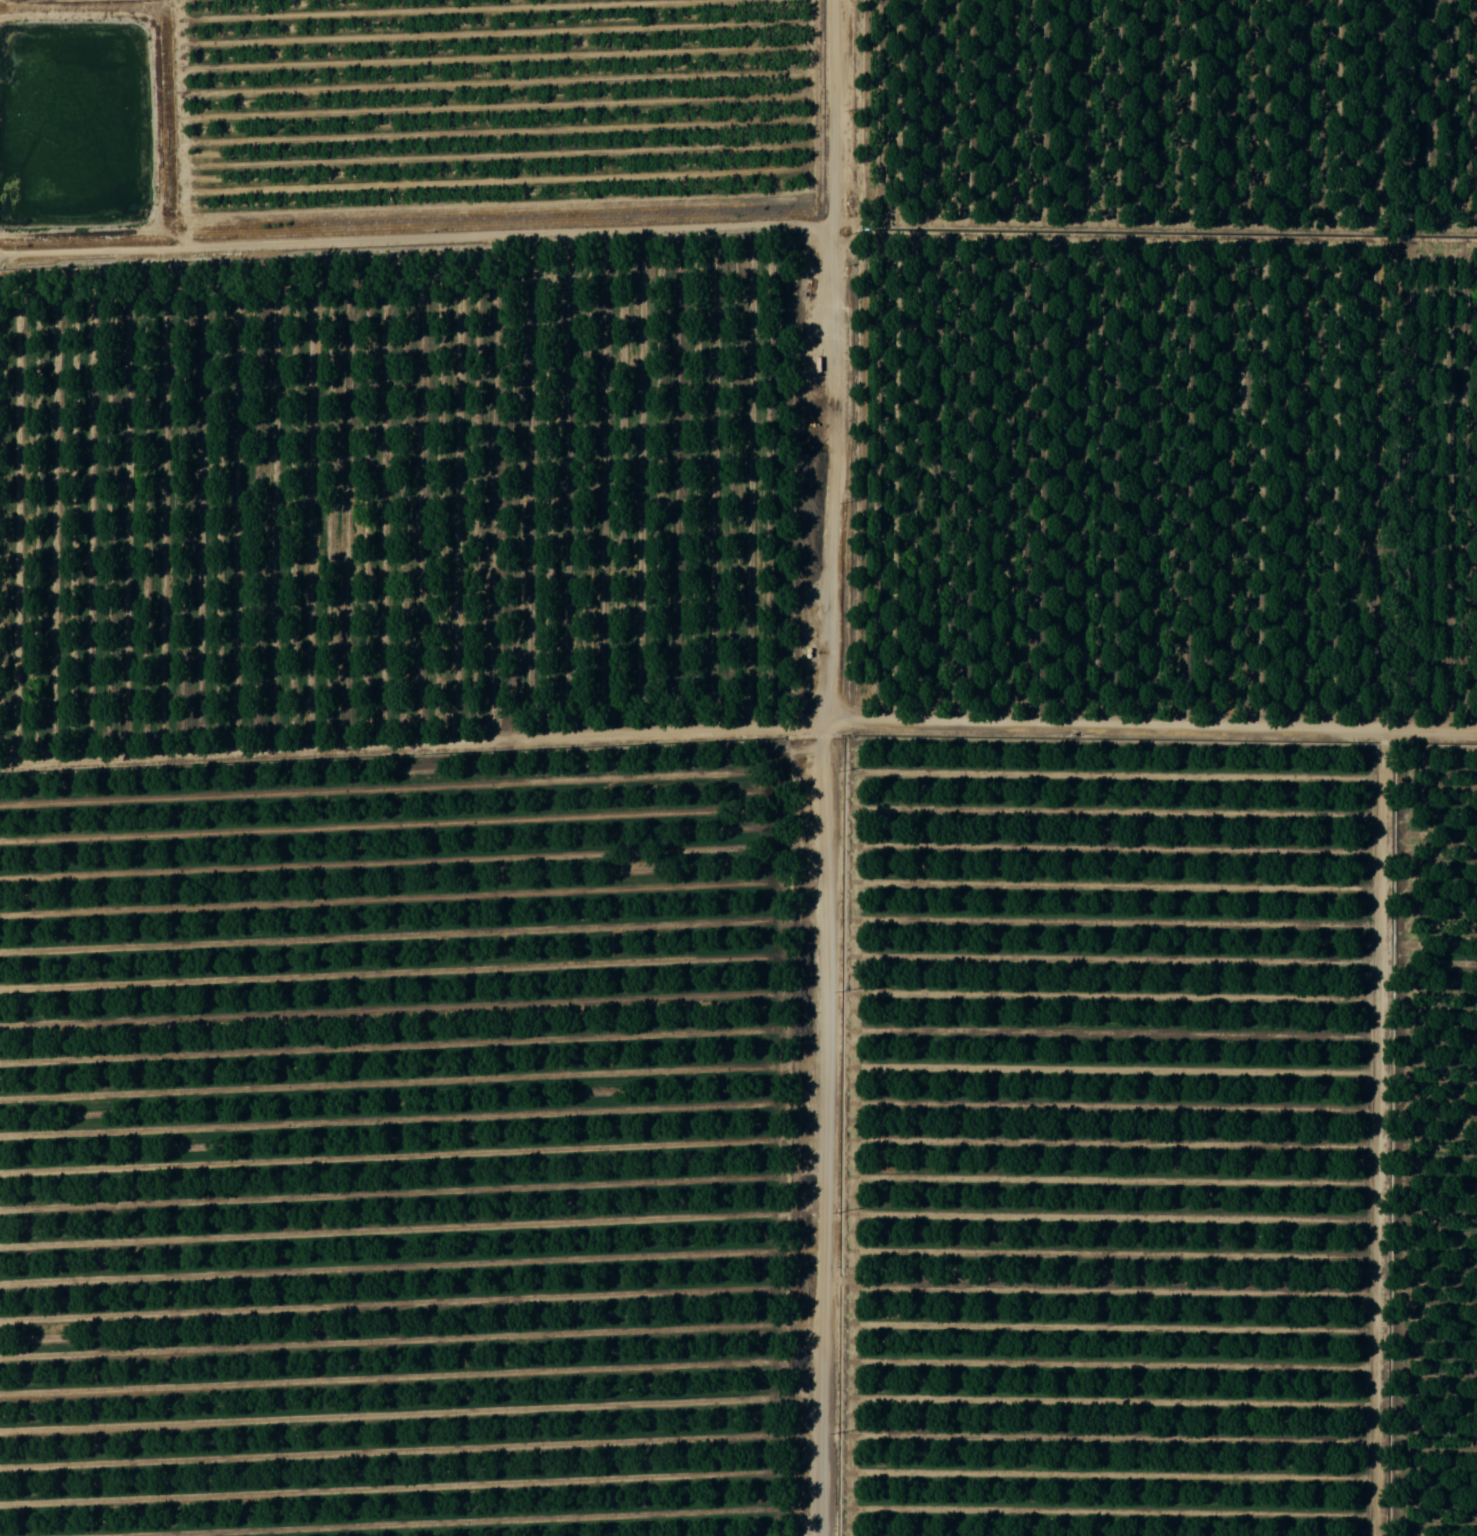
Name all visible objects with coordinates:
road: (738, 728)
road: (815, 1130)

